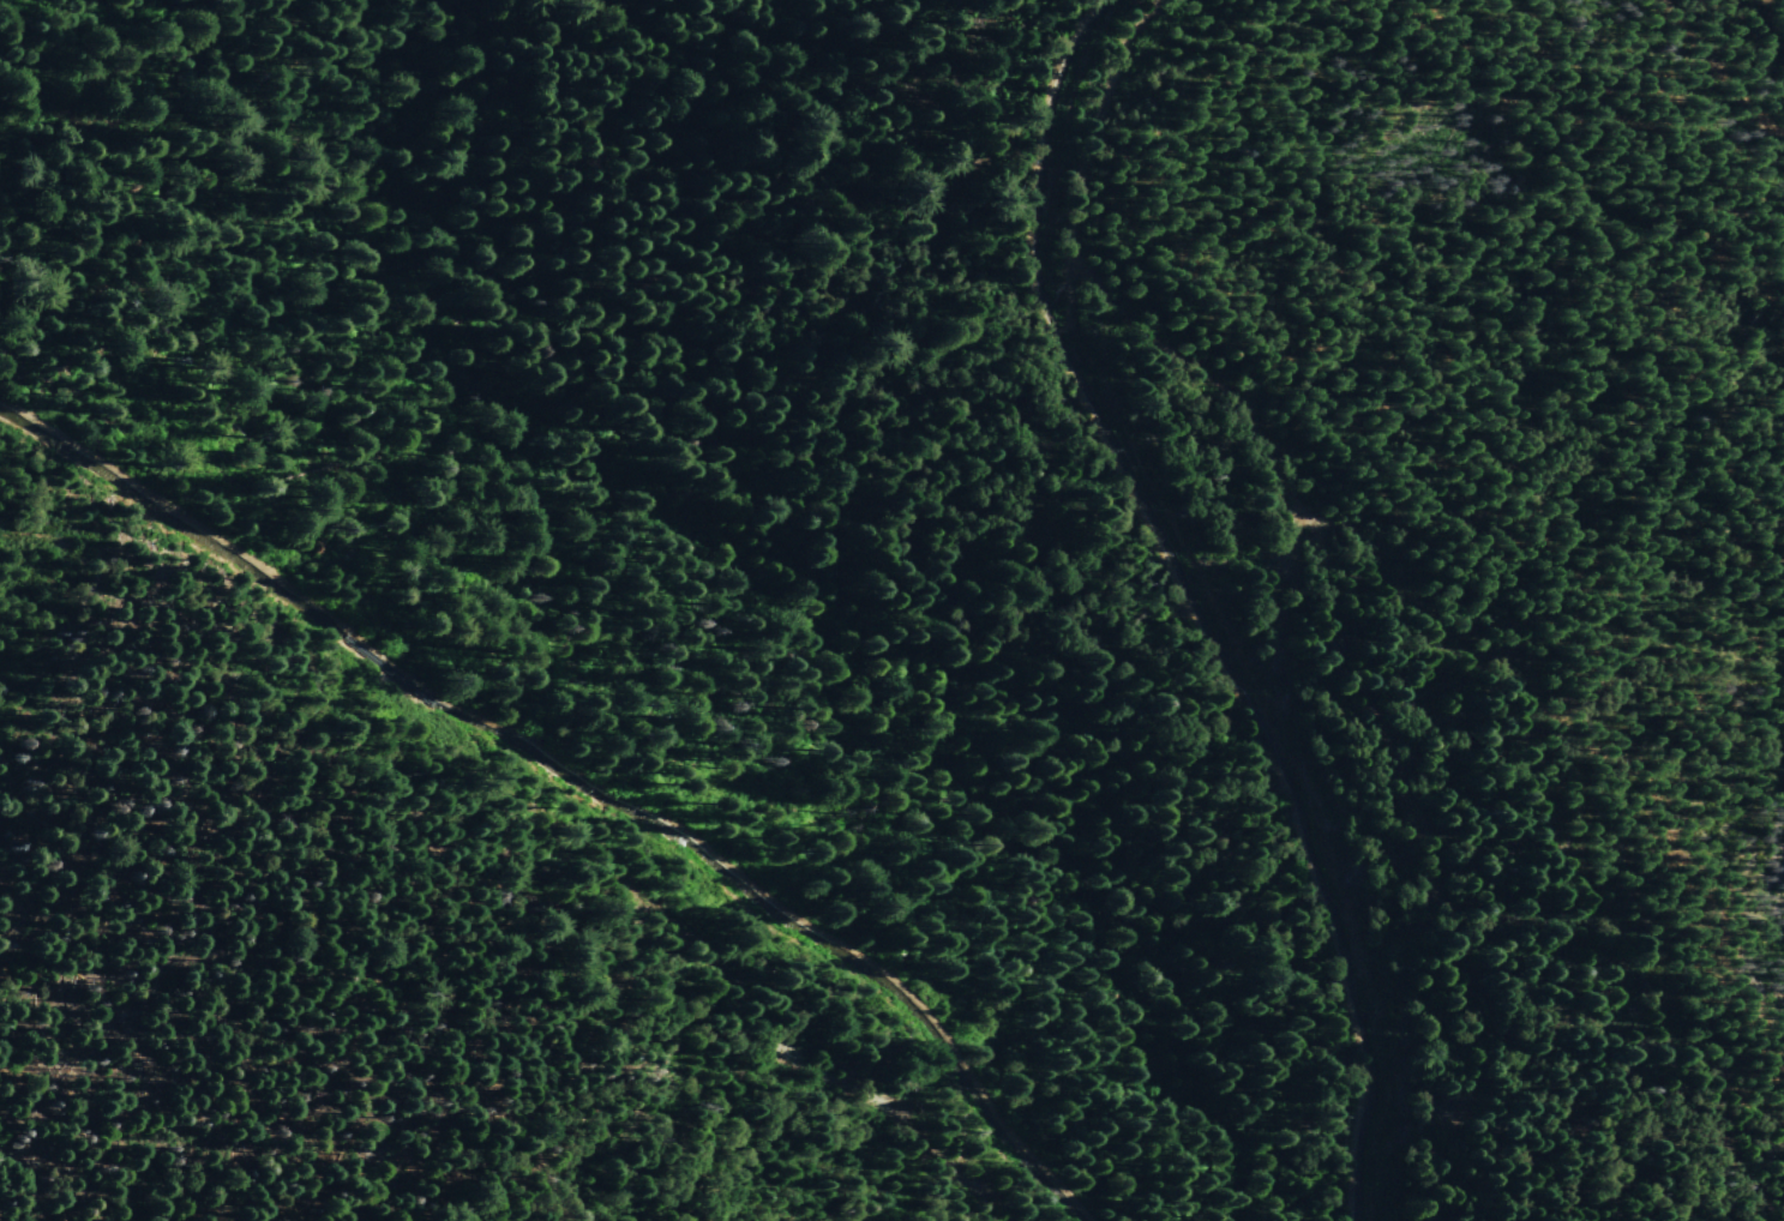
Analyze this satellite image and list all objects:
road: (1719, 70)
road: (1322, 561)
road: (176, 723)
road: (311, 963)

